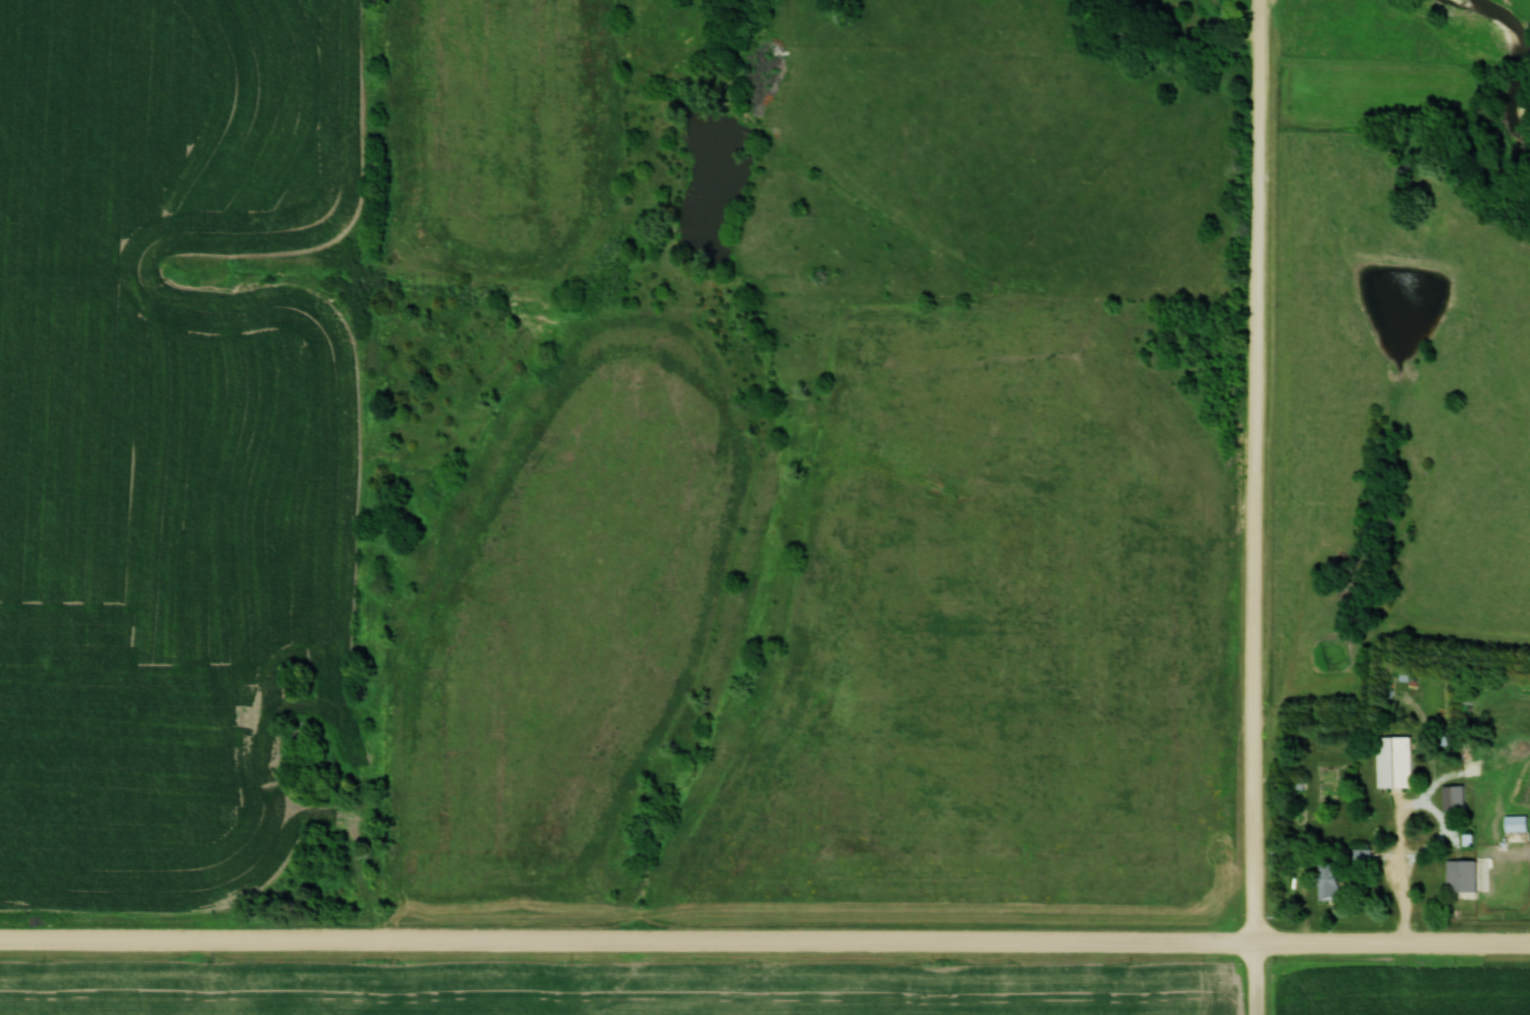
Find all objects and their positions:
road: (1256, 507)
building: (1400, 761)
building: (1458, 797)
road: (1424, 805)
building: (1518, 823)
building: (1466, 875)
building: (1334, 880)
road: (1410, 903)
road: (765, 943)

